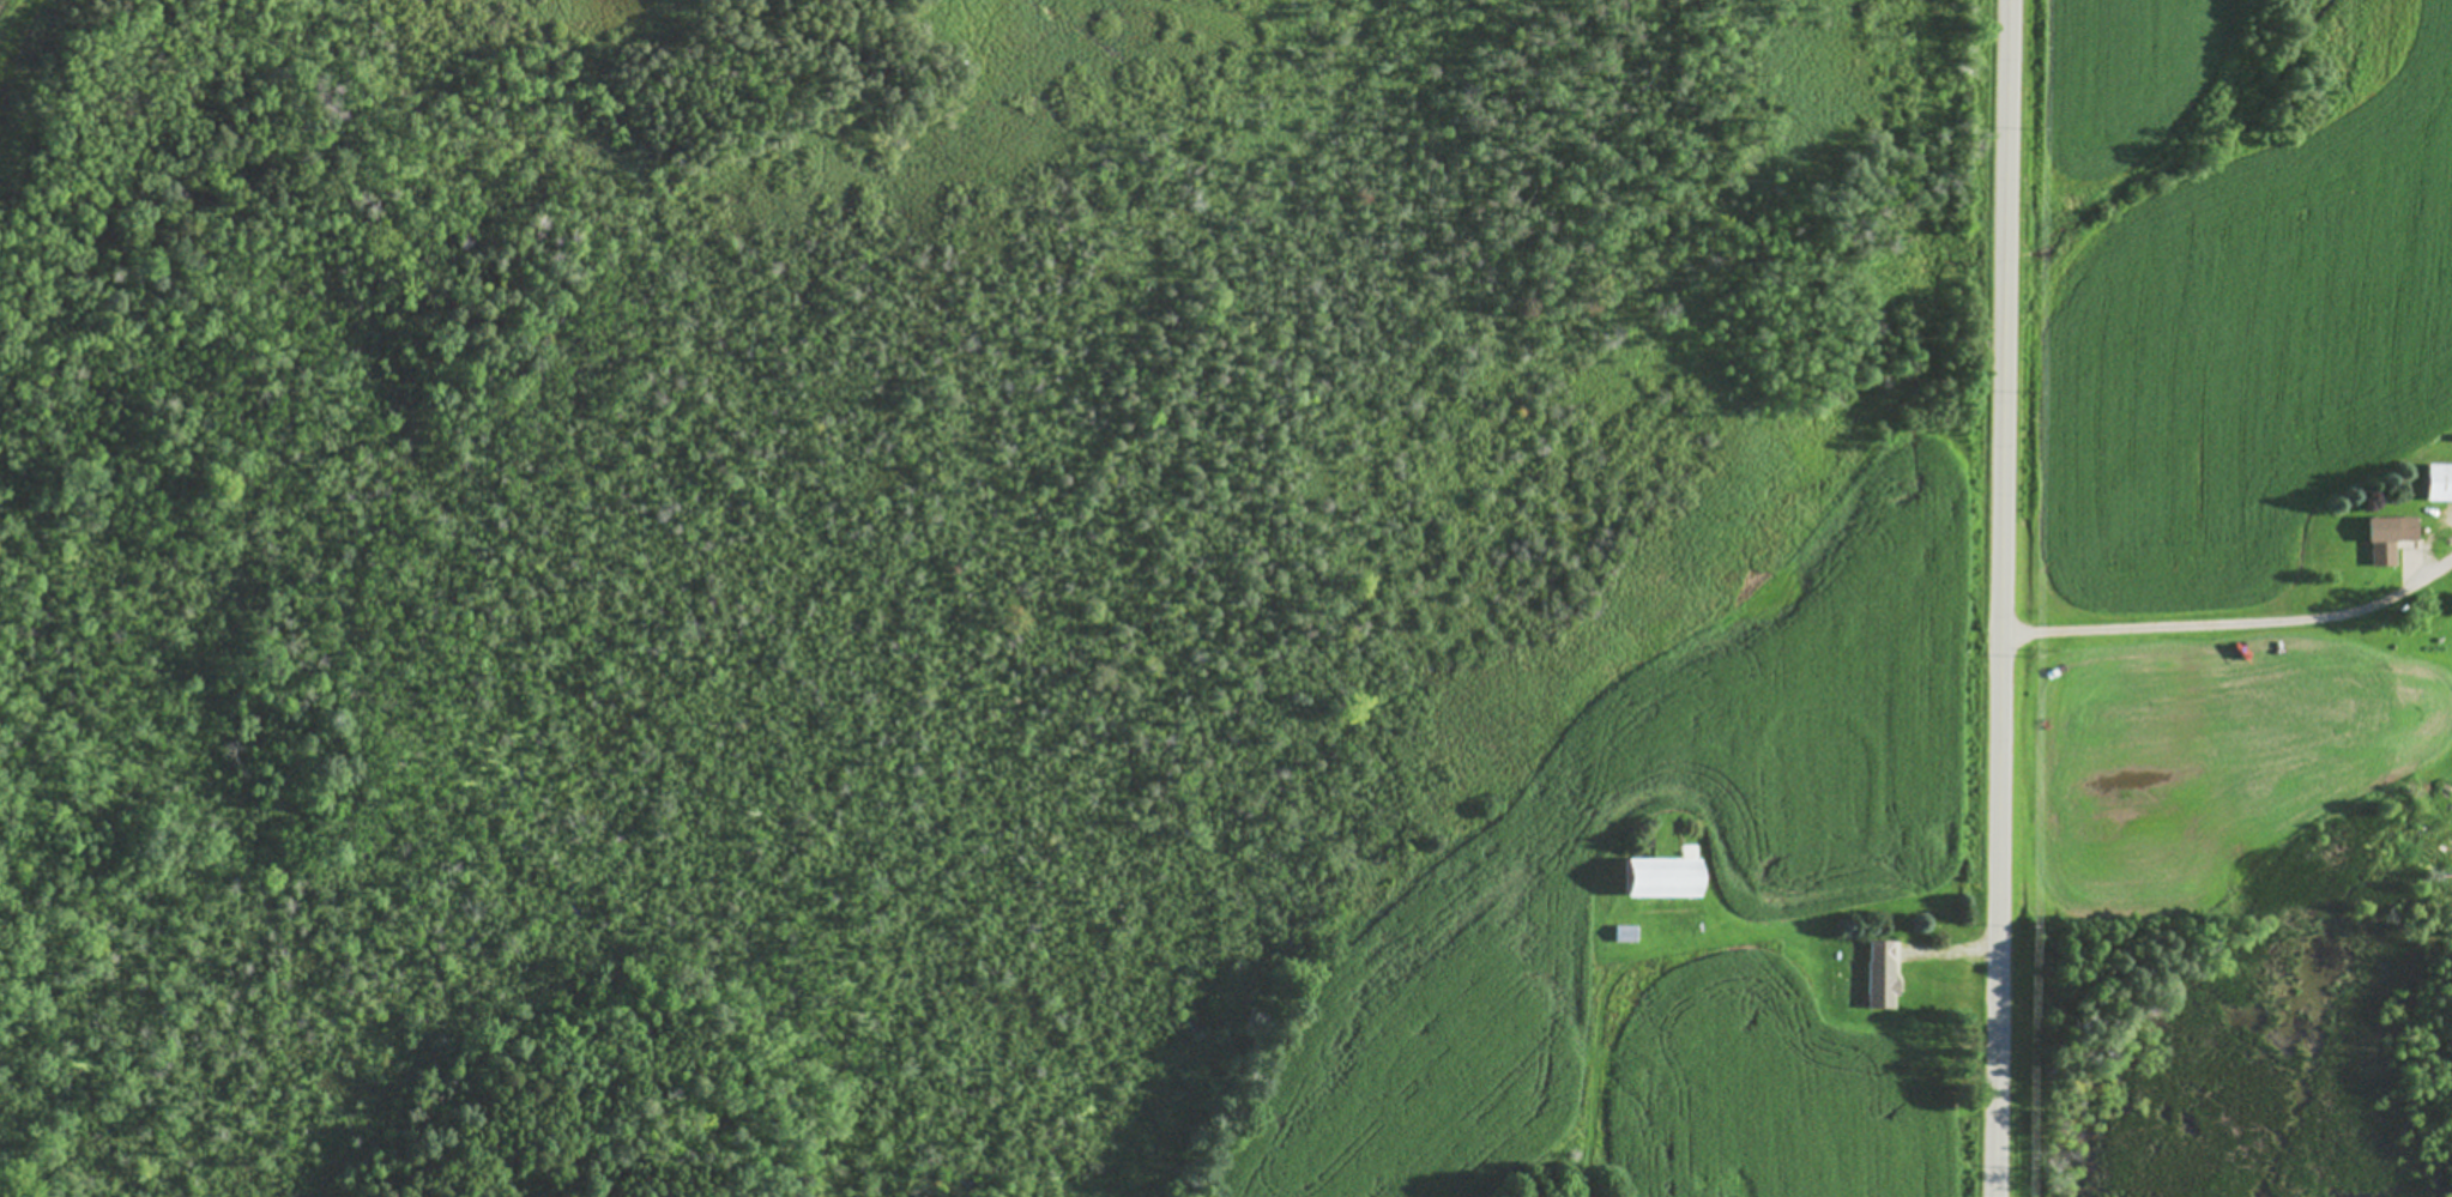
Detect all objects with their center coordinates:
building: (2439, 483)
building: (2388, 537)
road: (1999, 598)
road: (2233, 622)
building: (1666, 879)
building: (1883, 975)

